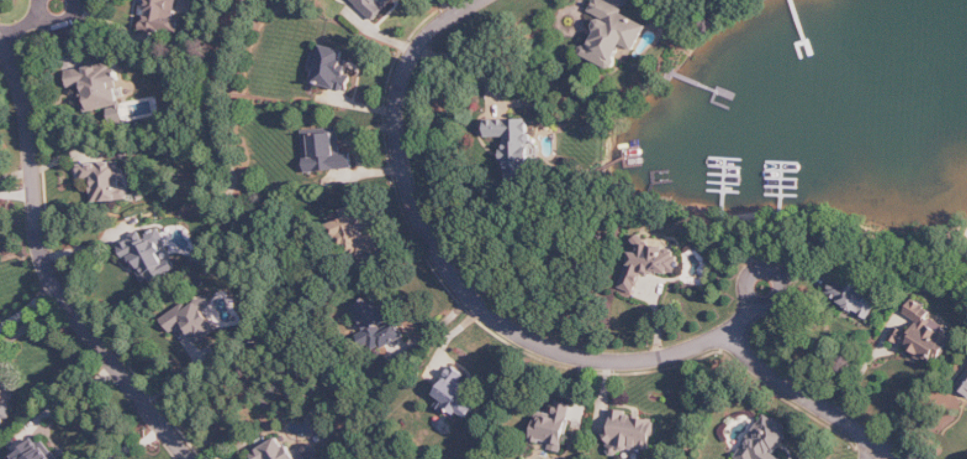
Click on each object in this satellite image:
building: (373, 6)
road: (57, 24)
road: (20, 28)
building: (613, 33)
road: (462, 62)
building: (333, 69)
building: (96, 85)
building: (515, 146)
building: (326, 151)
building: (106, 180)
road: (17, 193)
road: (276, 250)
building: (149, 256)
building: (649, 262)
road: (449, 269)
road: (48, 270)
road: (774, 271)
building: (853, 297)
road: (28, 307)
road: (743, 318)
building: (191, 321)
building: (377, 323)
road: (32, 324)
building: (928, 335)
building: (963, 385)
road: (75, 391)
building: (457, 396)
road: (812, 400)
building: (5, 411)
building: (554, 427)
building: (631, 432)
building: (765, 440)
building: (37, 450)
road: (873, 450)
building: (275, 451)

